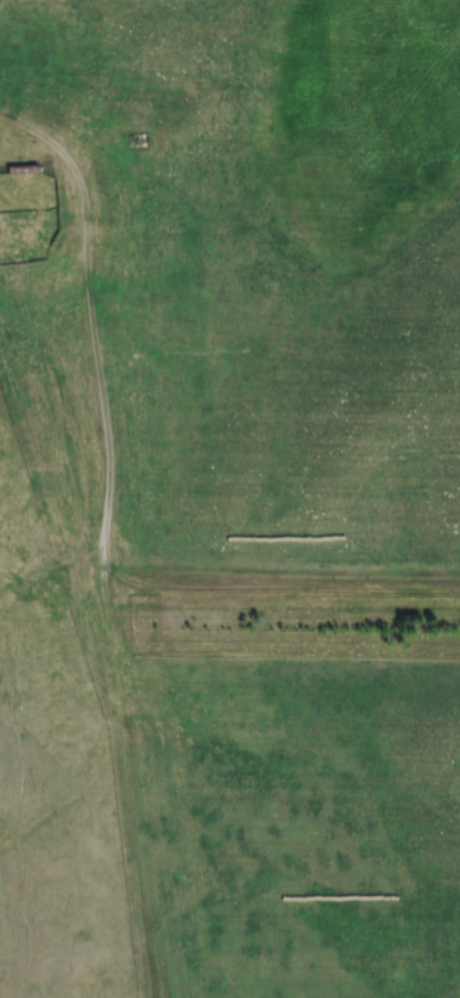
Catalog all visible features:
road: (112, 499)

